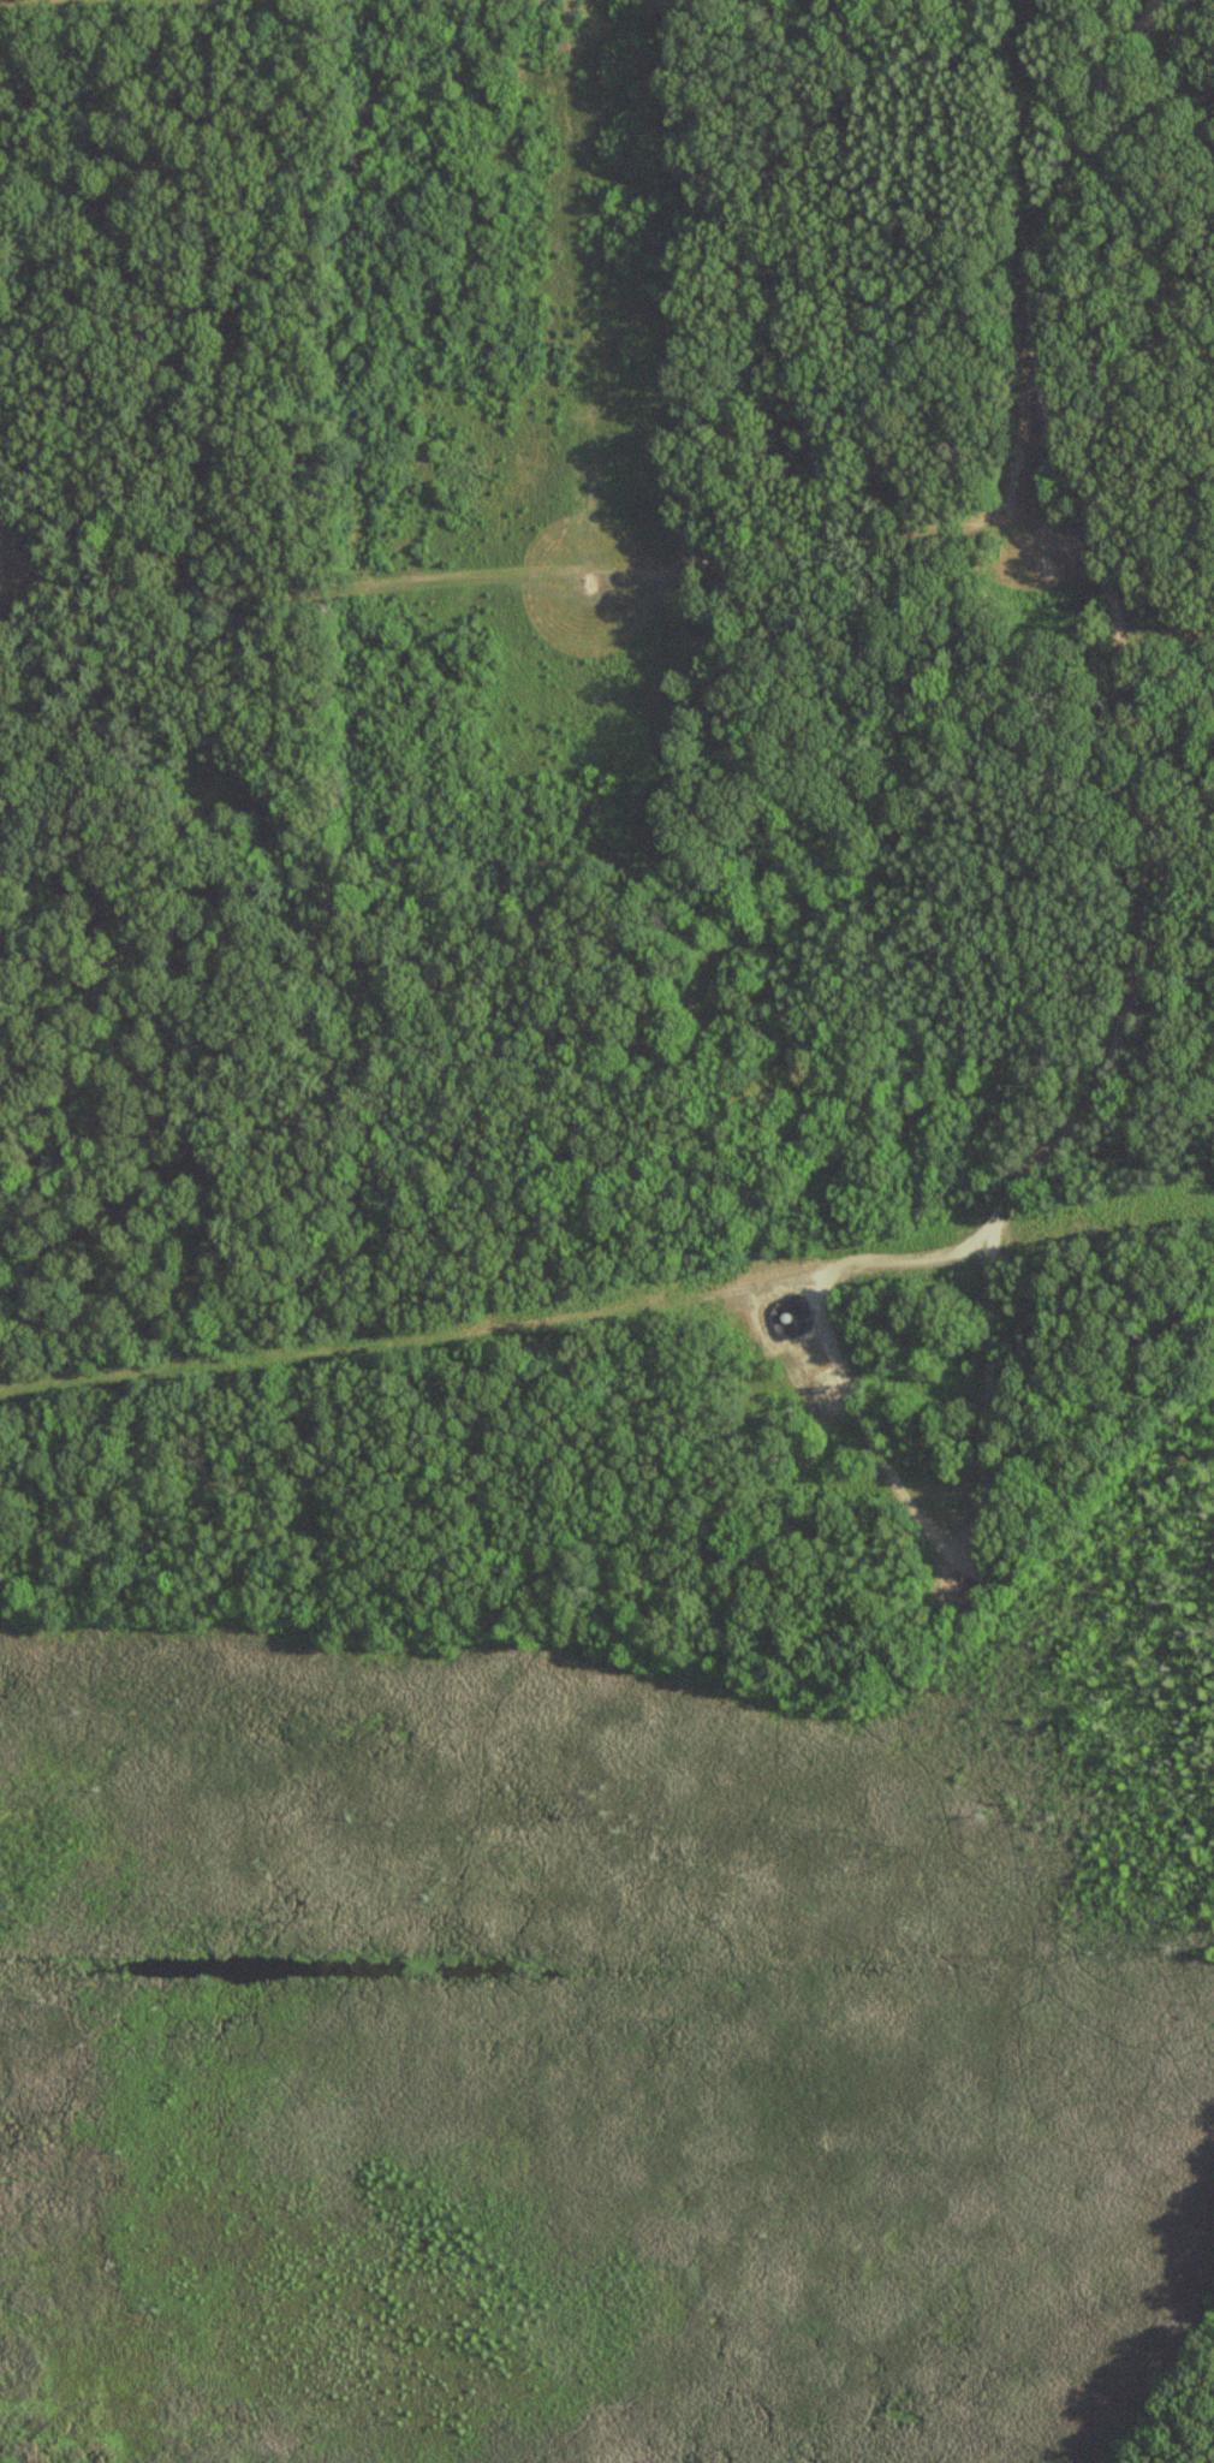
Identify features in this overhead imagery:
road: (2, 283)
road: (618, 584)
road: (1040, 1175)
road: (820, 1323)

